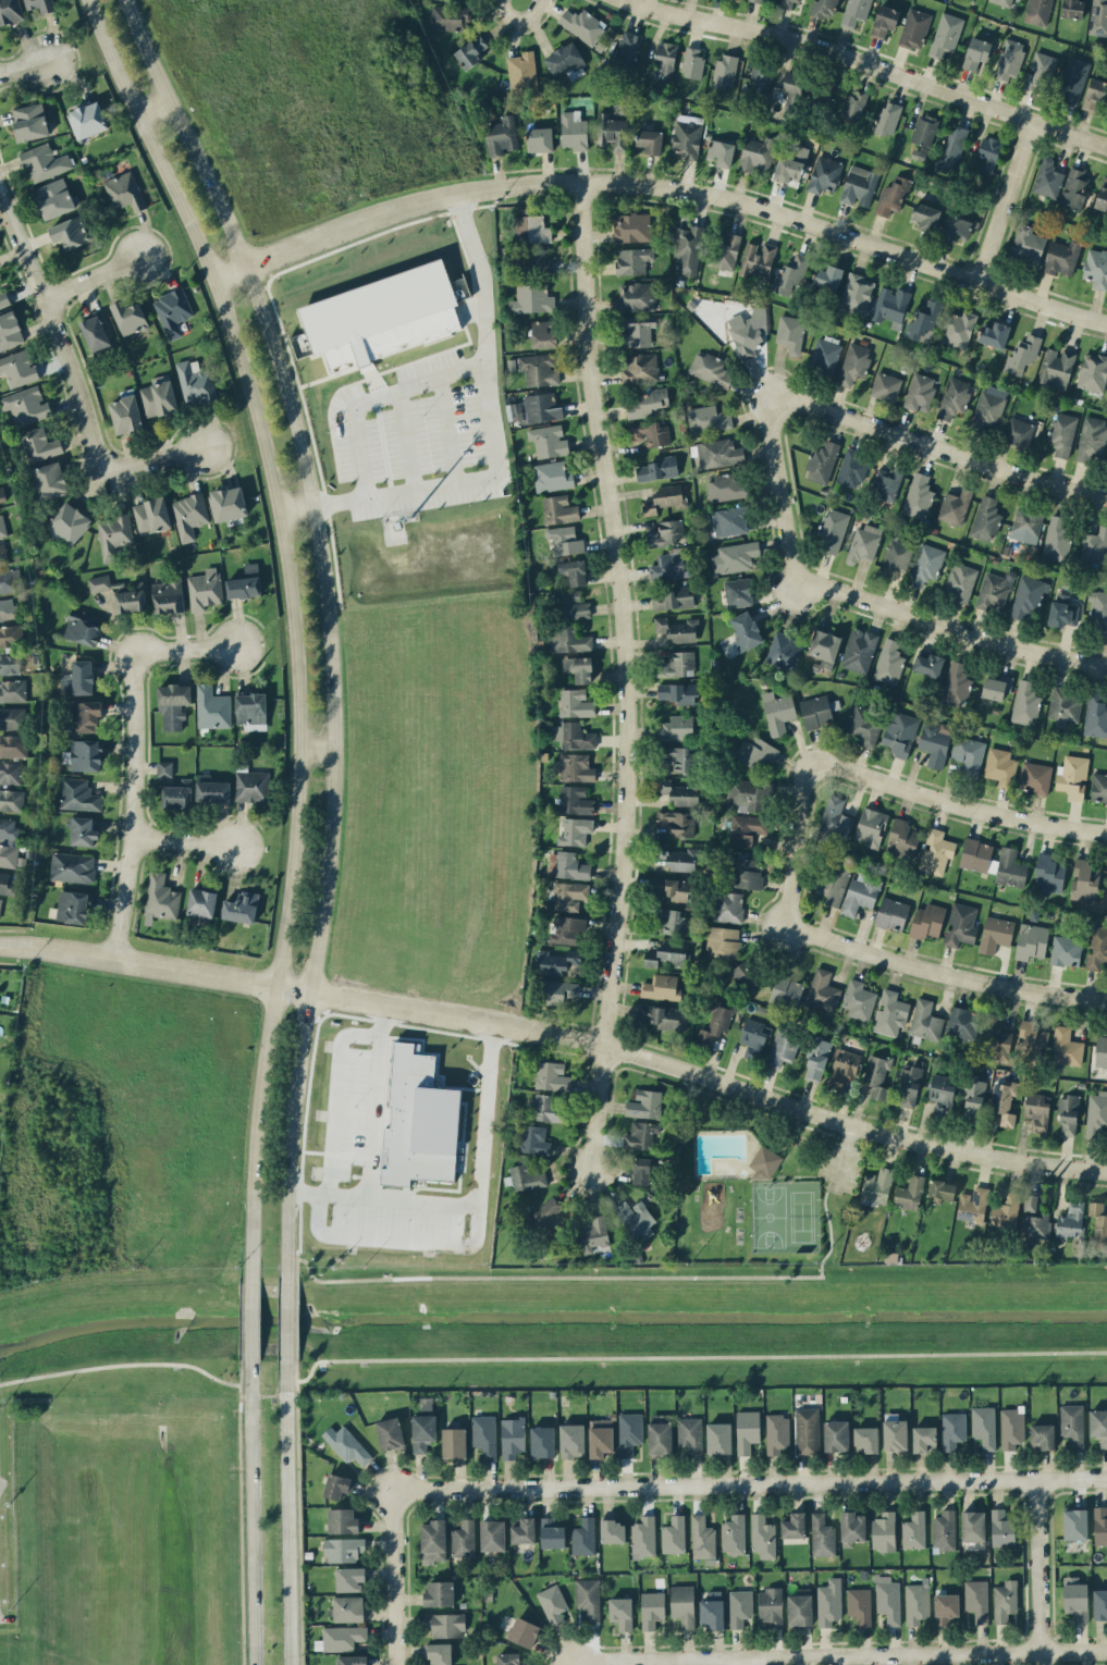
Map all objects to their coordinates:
building: (757, 0)
building: (1003, 2)
building: (788, 3)
building: (41, 4)
building: (824, 8)
building: (1072, 9)
building: (11, 11)
building: (854, 11)
building: (1037, 11)
road: (518, 16)
building: (1098, 16)
building: (451, 17)
building: (884, 21)
building: (582, 24)
building: (914, 28)
building: (946, 34)
building: (627, 46)
building: (471, 51)
building: (976, 51)
building: (1009, 59)
building: (566, 61)
road: (870, 61)
road: (23, 63)
building: (692, 63)
building: (725, 70)
building: (1041, 72)
building: (522, 74)
building: (761, 76)
building: (1072, 79)
building: (795, 86)
building: (1094, 94)
building: (853, 103)
building: (887, 118)
building: (87, 120)
building: (29, 121)
building: (574, 129)
building: (924, 129)
building: (612, 132)
building: (501, 135)
building: (540, 139)
building: (686, 139)
building: (650, 140)
building: (951, 148)
building: (721, 152)
building: (757, 153)
building: (988, 153)
building: (45, 161)
building: (790, 162)
building: (824, 174)
building: (1047, 178)
road: (662, 185)
building: (859, 185)
building: (1074, 188)
building: (125, 190)
building: (1102, 193)
building: (891, 195)
building: (56, 197)
road: (1005, 199)
building: (925, 217)
building: (631, 226)
building: (956, 227)
building: (530, 229)
building: (70, 232)
building: (1028, 244)
building: (689, 248)
building: (725, 251)
building: (1061, 257)
building: (758, 259)
building: (632, 260)
building: (533, 262)
building: (1096, 268)
building: (790, 274)
building: (827, 276)
road: (90, 280)
building: (856, 293)
building: (636, 296)
building: (531, 298)
building: (3, 299)
building: (890, 305)
building: (173, 310)
building: (382, 316)
building: (128, 317)
building: (923, 320)
building: (958, 329)
building: (10, 330)
building: (637, 330)
building: (95, 332)
building: (790, 332)
building: (543, 334)
building: (995, 334)
road: (53, 335)
building: (746, 337)
building: (824, 355)
building: (1021, 357)
building: (853, 362)
building: (1056, 367)
building: (19, 368)
building: (539, 369)
building: (640, 369)
building: (710, 369)
building: (1093, 372)
building: (195, 382)
building: (885, 386)
building: (920, 391)
building: (159, 396)
road: (376, 397)
building: (952, 397)
building: (647, 402)
building: (26, 405)
building: (542, 407)
building: (988, 410)
building: (516, 411)
building: (125, 414)
building: (708, 419)
road: (883, 427)
road: (447, 430)
building: (1017, 431)
building: (650, 433)
building: (1063, 433)
building: (1092, 439)
road: (406, 440)
building: (549, 440)
road: (495, 441)
building: (38, 444)
building: (718, 453)
road: (151, 459)
building: (822, 461)
building: (657, 468)
building: (852, 468)
building: (552, 474)
building: (49, 480)
building: (887, 482)
building: (726, 486)
building: (2, 494)
building: (918, 494)
building: (664, 497)
building: (227, 503)
building: (954, 506)
building: (559, 509)
building: (151, 515)
building: (189, 515)
building: (985, 518)
building: (729, 520)
building: (70, 521)
building: (1026, 525)
building: (2, 527)
building: (832, 531)
building: (665, 533)
building: (114, 534)
building: (1057, 539)
building: (565, 540)
building: (863, 543)
building: (1095, 545)
building: (2, 554)
building: (735, 556)
building: (896, 556)
building: (925, 564)
building: (669, 566)
building: (574, 570)
building: (10, 580)
building: (960, 581)
building: (245, 582)
building: (205, 589)
building: (994, 591)
building: (738, 592)
building: (119, 593)
building: (1028, 595)
building: (168, 596)
building: (672, 599)
building: (575, 605)
building: (7, 608)
building: (1097, 610)
road: (914, 614)
building: (1062, 614)
road: (291, 624)
road: (325, 625)
building: (83, 626)
building: (677, 629)
building: (746, 630)
building: (11, 634)
building: (569, 639)
building: (824, 645)
building: (859, 649)
building: (784, 651)
building: (889, 662)
building: (10, 663)
building: (677, 664)
building: (928, 664)
building: (579, 667)
road: (625, 675)
building: (78, 678)
building: (955, 683)
building: (996, 687)
building: (13, 690)
building: (678, 691)
building: (576, 702)
building: (1024, 703)
building: (173, 704)
building: (1065, 705)
building: (212, 707)
building: (251, 710)
building: (815, 711)
building: (778, 712)
building: (85, 715)
building: (1095, 715)
building: (12, 717)
building: (864, 725)
building: (679, 727)
road: (143, 731)
building: (900, 733)
building: (574, 735)
building: (935, 741)
building: (13, 744)
building: (757, 753)
building: (85, 754)
building: (968, 754)
building: (679, 757)
building: (1000, 766)
building: (576, 767)
building: (164, 768)
building: (10, 772)
building: (1072, 776)
building: (1035, 777)
road: (900, 781)
building: (251, 786)
building: (212, 789)
building: (679, 792)
building: (77, 794)
building: (177, 794)
building: (747, 794)
building: (11, 799)
building: (575, 800)
building: (835, 818)
building: (677, 823)
building: (870, 826)
building: (747, 828)
building: (8, 829)
building: (84, 830)
building: (575, 830)
building: (901, 837)
road: (184, 842)
building: (936, 851)
building: (8, 855)
building: (677, 858)
building: (994, 862)
building: (552, 864)
building: (570, 865)
building: (72, 866)
building: (747, 873)
building: (1048, 875)
building: (1085, 878)
building: (833, 881)
building: (8, 884)
building: (673, 887)
building: (860, 892)
building: (568, 895)
building: (160, 898)
building: (0, 902)
building: (201, 902)
building: (72, 905)
building: (728, 905)
building: (241, 906)
building: (891, 913)
building: (926, 921)
building: (673, 922)
building: (960, 924)
road: (124, 932)
building: (995, 933)
building: (1031, 940)
building: (723, 941)
building: (1096, 947)
building: (1066, 950)
building: (665, 953)
building: (556, 961)
road: (926, 964)
building: (746, 976)
building: (661, 987)
building: (822, 990)
building: (557, 991)
building: (786, 991)
building: (859, 999)
building: (890, 1013)
building: (664, 1015)
building: (925, 1020)
building: (714, 1023)
building: (962, 1023)
road: (558, 1034)
building: (752, 1038)
building: (1031, 1038)
building: (783, 1046)
building: (1066, 1047)
building: (1100, 1051)
building: (816, 1059)
building: (842, 1066)
building: (877, 1075)
building: (552, 1076)
building: (910, 1083)
building: (940, 1093)
road: (335, 1094)
road: (376, 1099)
building: (973, 1101)
building: (644, 1103)
building: (1003, 1105)
building: (549, 1108)
building: (1036, 1109)
building: (1096, 1112)
building: (1068, 1115)
building: (419, 1121)
building: (641, 1135)
building: (534, 1139)
road: (841, 1157)
building: (765, 1162)
building: (641, 1170)
building: (525, 1177)
building: (877, 1184)
building: (942, 1189)
building: (910, 1193)
road: (469, 1200)
building: (1030, 1201)
building: (973, 1204)
building: (1005, 1210)
building: (546, 1217)
building: (635, 1219)
building: (1071, 1220)
building: (1098, 1221)
building: (1036, 1225)
road: (829, 1231)
building: (593, 1233)
road: (296, 1270)
road: (549, 1275)
road: (248, 1319)
road: (286, 1319)
road: (296, 1319)
river: (552, 1323)
road: (654, 1355)
road: (121, 1365)
road: (296, 1368)
building: (1072, 1423)
building: (984, 1426)
building: (1098, 1426)
building: (1011, 1428)
building: (952, 1429)
building: (747, 1430)
building: (807, 1430)
building: (423, 1431)
building: (629, 1432)
building: (390, 1433)
building: (777, 1433)
building: (895, 1433)
building: (484, 1434)
building: (660, 1434)
building: (690, 1434)
building: (836, 1435)
building: (513, 1436)
building: (1042, 1436)
building: (601, 1438)
building: (718, 1438)
building: (924, 1438)
building: (865, 1439)
building: (571, 1440)
building: (542, 1441)
building: (454, 1442)
building: (348, 1445)
road: (748, 1482)
building: (337, 1485)
road: (251, 1510)
road: (291, 1510)
building: (343, 1520)
building: (1075, 1524)
building: (794, 1525)
building: (973, 1525)
building: (1100, 1525)
wastewater plant: (8, 1526)
building: (852, 1528)
building: (1001, 1528)
road: (243, 1530)
road: (299, 1530)
building: (524, 1530)
building: (914, 1530)
building: (944, 1530)
building: (613, 1531)
building: (884, 1531)
building: (553, 1532)
building: (493, 1534)
building: (674, 1534)
building: (734, 1534)
building: (822, 1534)
building: (583, 1535)
building: (762, 1535)
building: (643, 1537)
building: (702, 1537)
building: (464, 1538)
building: (432, 1541)
building: (344, 1549)
road: (1036, 1565)
road: (390, 1577)
building: (349, 1578)
building: (440, 1593)
building: (589, 1598)
building: (1075, 1598)
building: (887, 1599)
building: (976, 1600)
building: (1005, 1600)
building: (828, 1602)
building: (553, 1603)
building: (915, 1603)
building: (1099, 1603)
building: (682, 1604)
building: (860, 1604)
building: (740, 1606)
building: (771, 1607)
building: (946, 1607)
building: (347, 1608)
building: (652, 1608)
building: (799, 1608)
building: (712, 1609)
building: (620, 1612)
building: (445, 1624)
building: (524, 1631)
building: (341, 1638)
building: (439, 1653)
road: (837, 1656)
building: (509, 1658)
road: (737, 1662)
road: (568, 1663)

